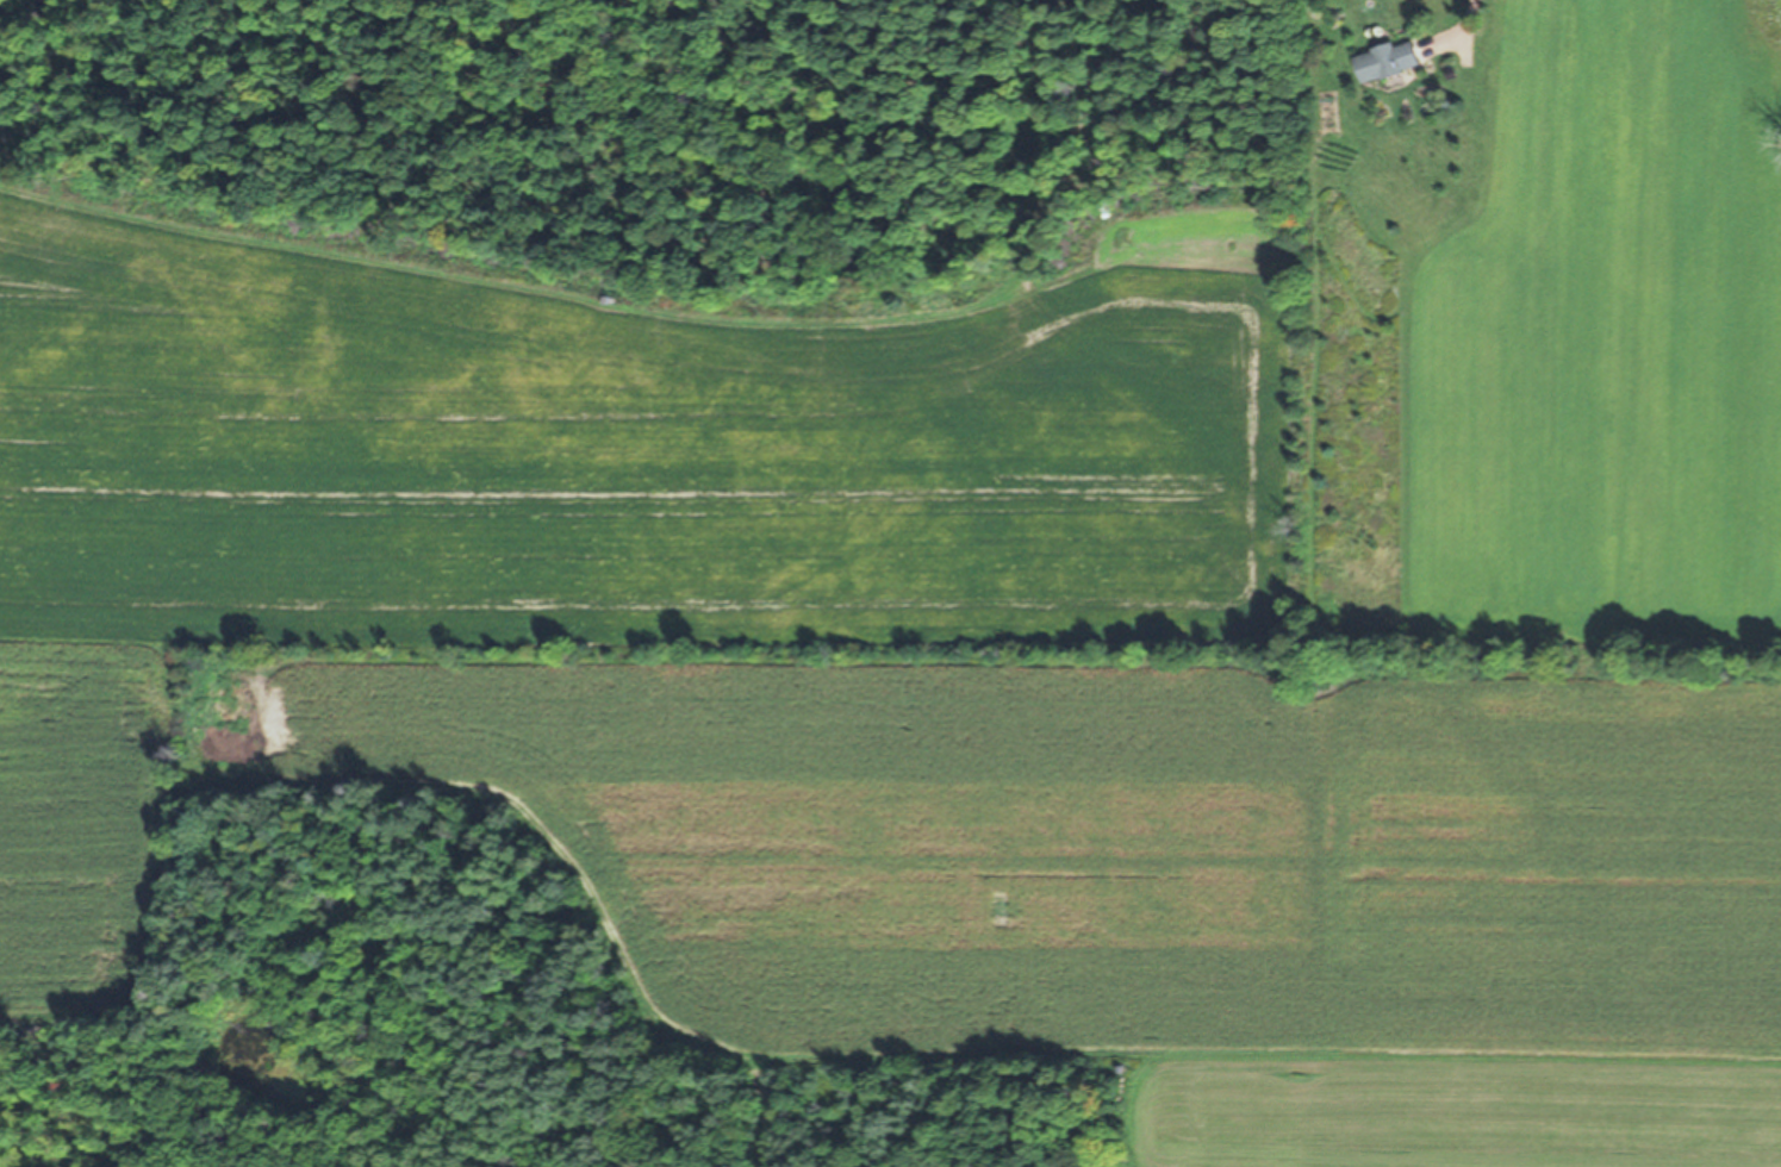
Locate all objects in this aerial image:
building: (1390, 61)
crop: (870, 685)

